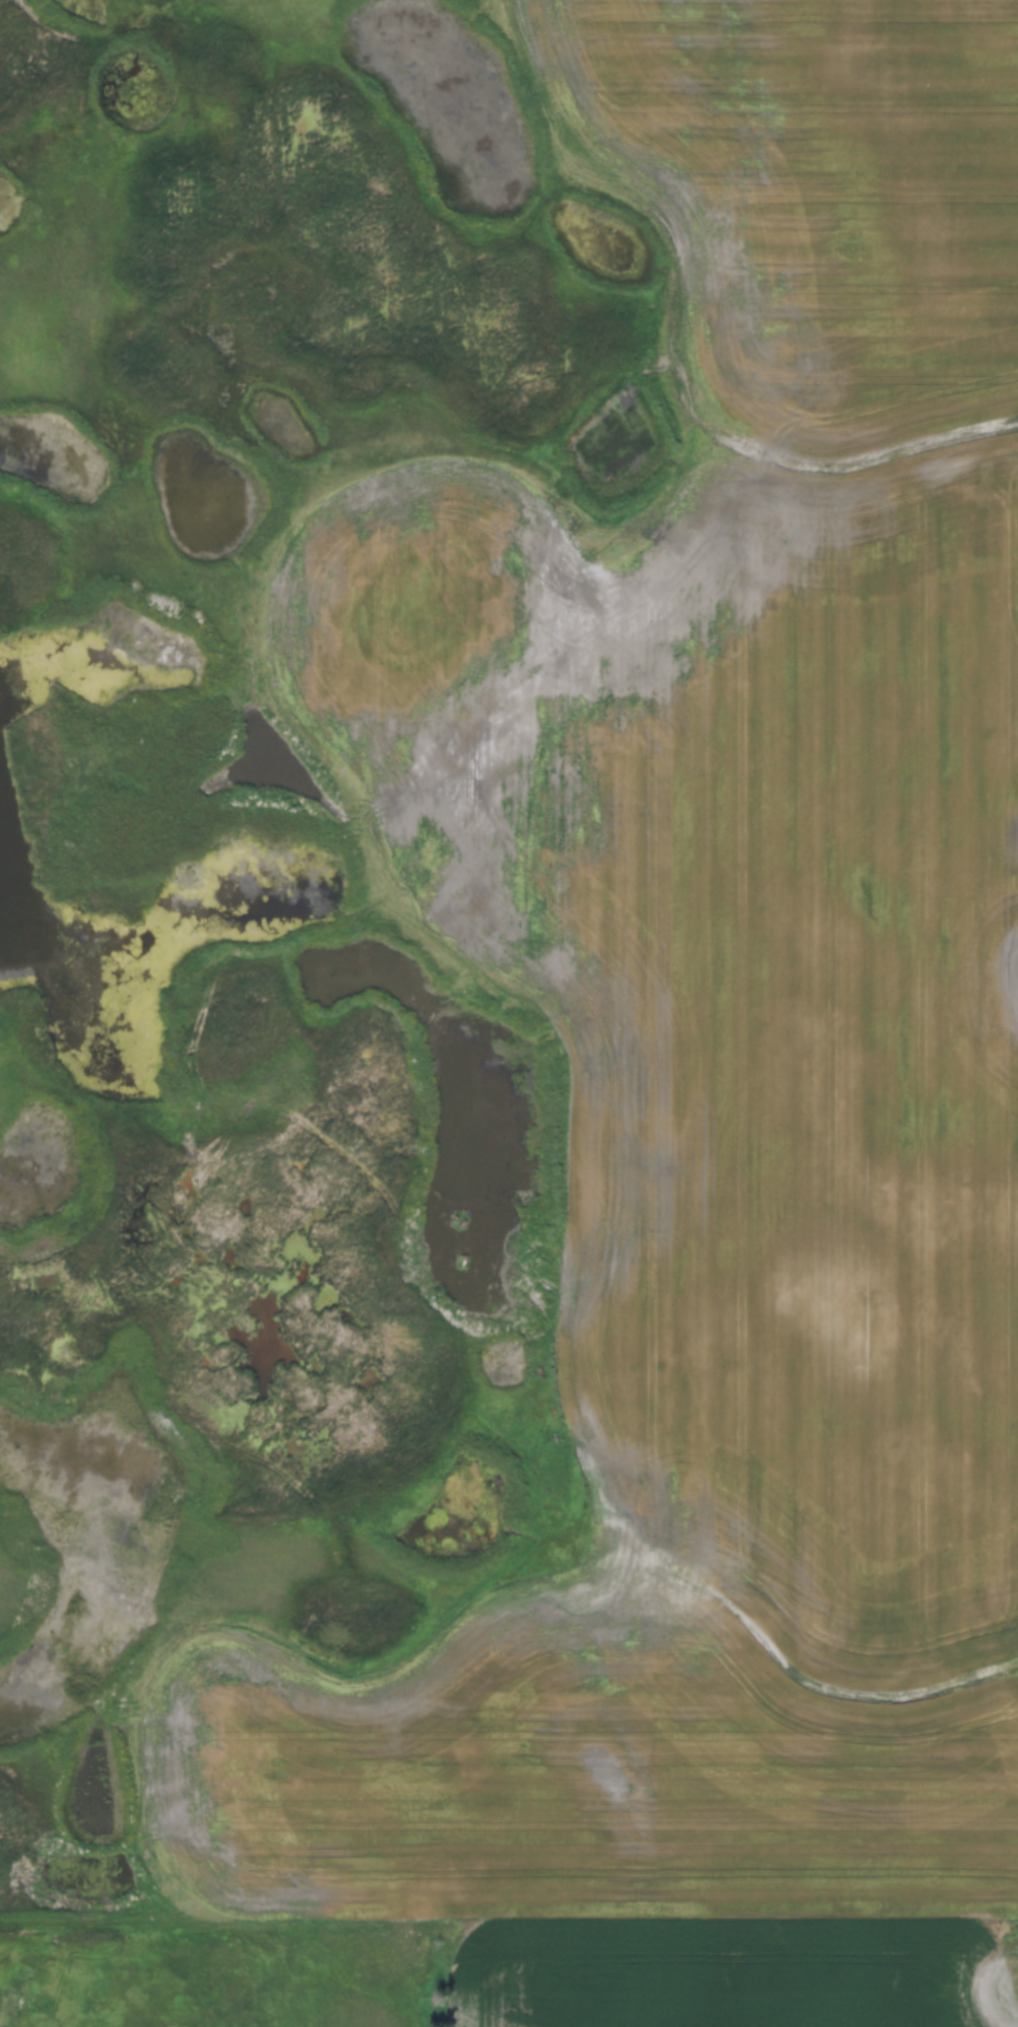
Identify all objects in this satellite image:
road: (1014, 1936)

